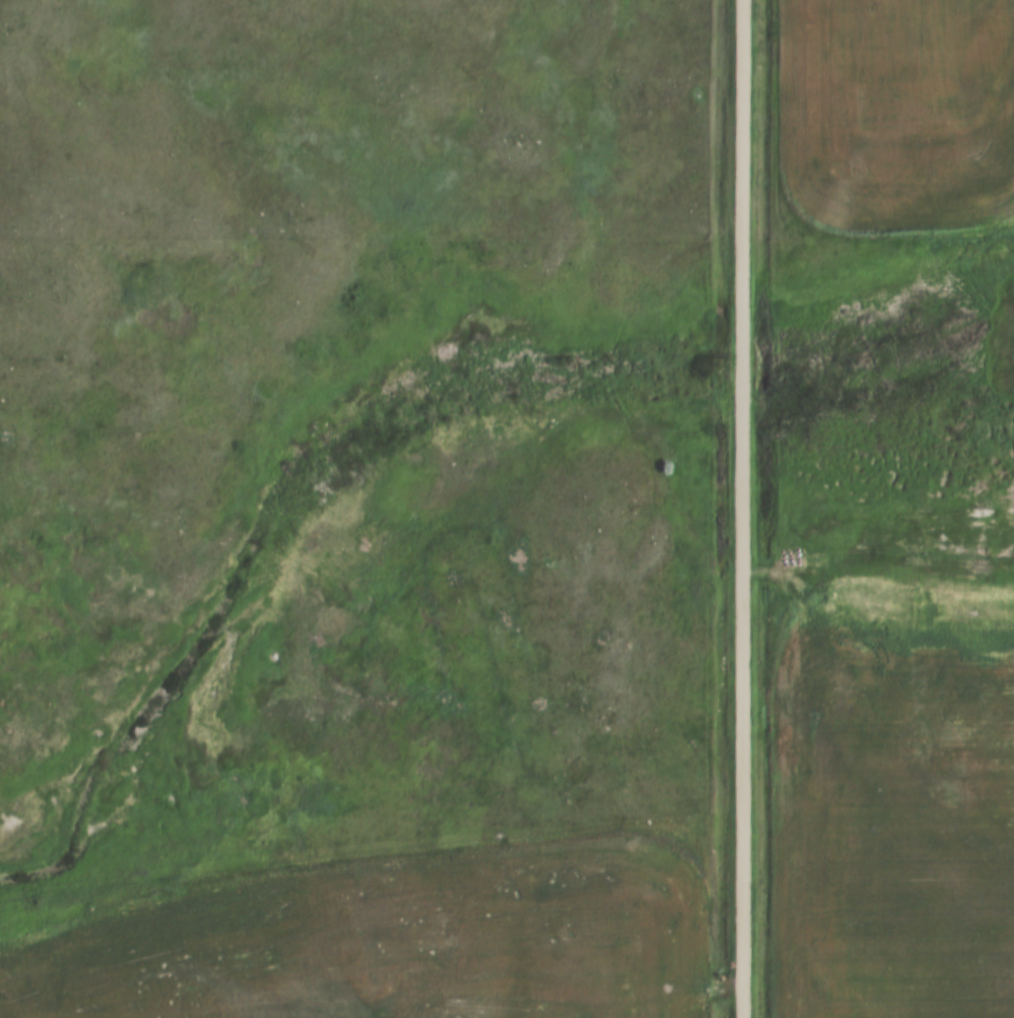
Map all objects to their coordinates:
road: (741, 508)

